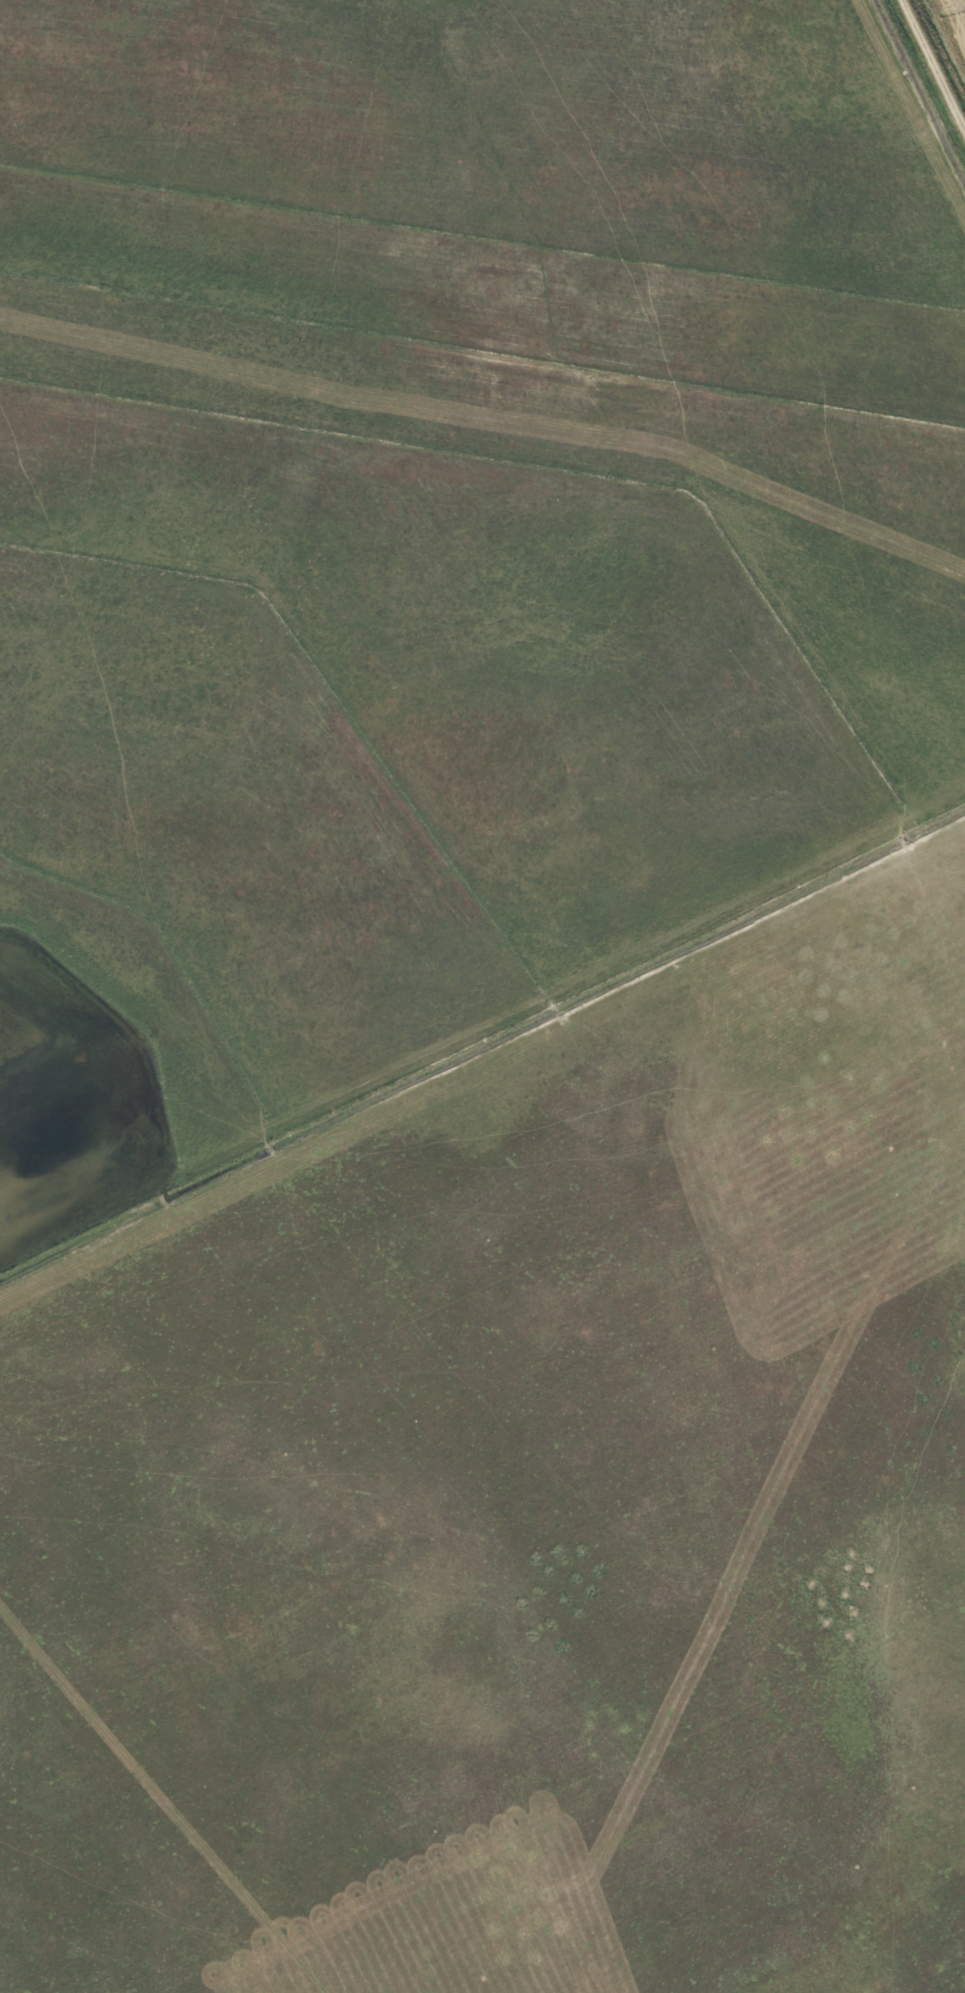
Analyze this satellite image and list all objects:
road: (935, 62)

